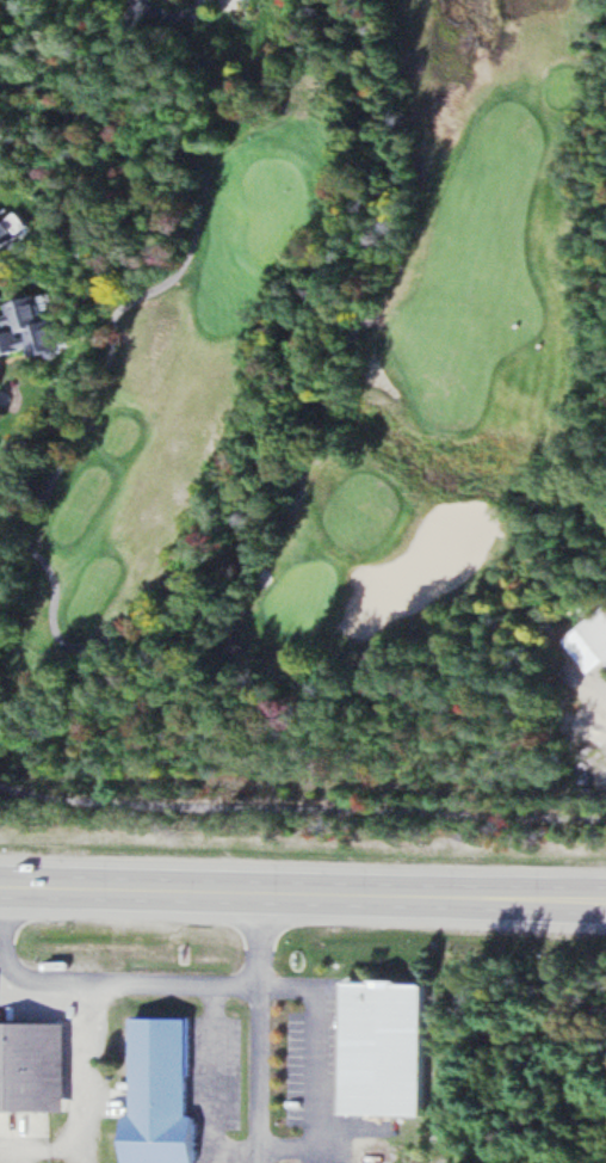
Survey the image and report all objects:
road: (173, 11)
road: (586, 105)
park: (276, 203)
building: (7, 232)
building: (29, 330)
road: (88, 398)
park: (342, 410)
park: (303, 595)
building: (592, 645)
road: (302, 808)
road: (302, 892)
road: (322, 1003)
road: (259, 1027)
building: (390, 1048)
building: (35, 1067)
building: (165, 1094)

